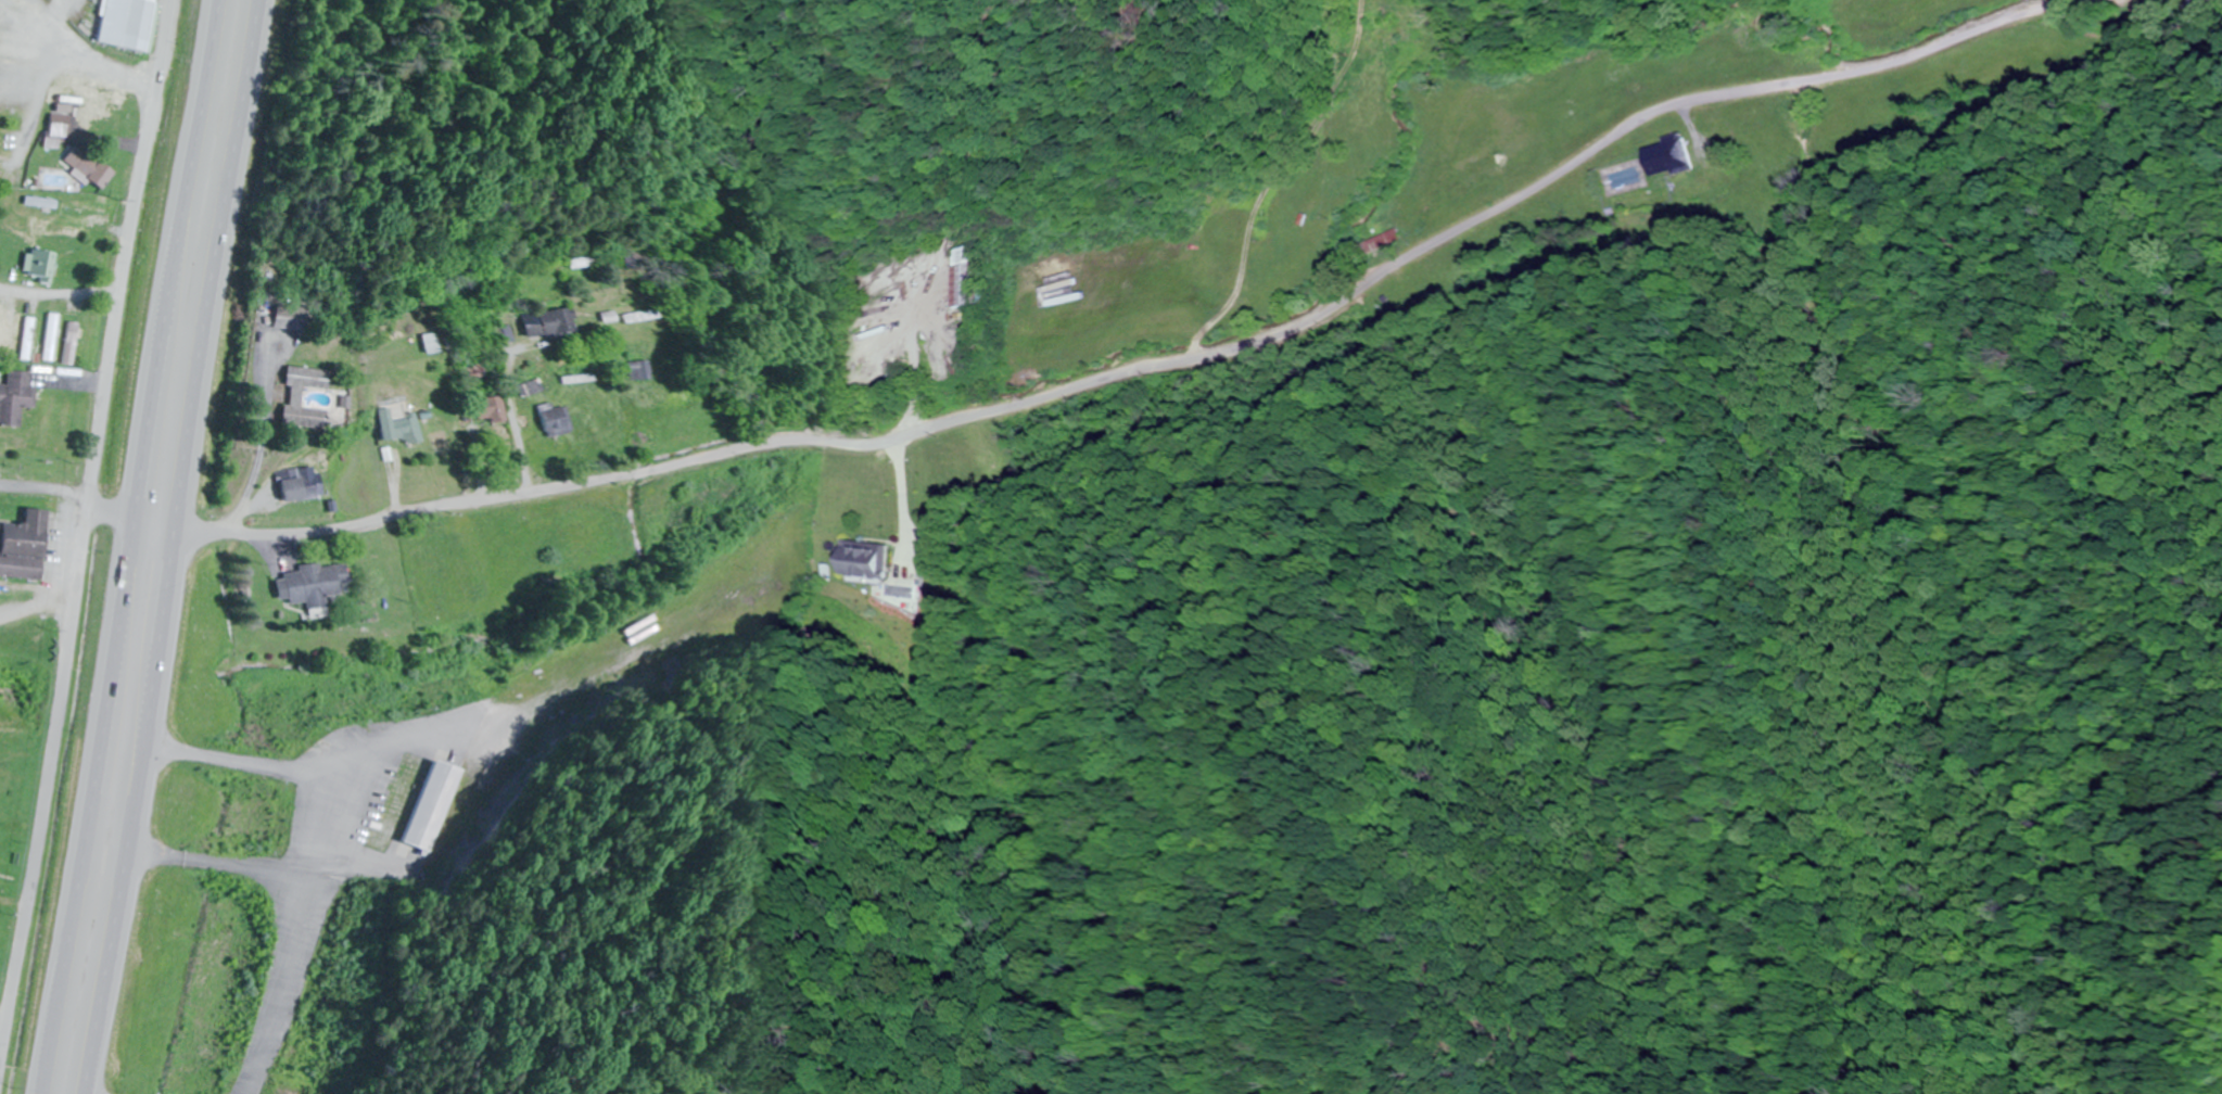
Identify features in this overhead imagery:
building: (127, 25)
building: (1389, 34)
road: (74, 60)
building: (93, 106)
building: (1669, 157)
building: (91, 168)
building: (90, 214)
building: (1284, 242)
building: (1308, 257)
building: (584, 263)
building: (40, 264)
building: (1261, 267)
building: (953, 277)
road: (60, 294)
building: (296, 319)
building: (549, 322)
building: (7, 333)
building: (53, 338)
building: (29, 340)
building: (74, 344)
building: (640, 371)
road: (1140, 378)
road: (947, 390)
building: (18, 397)
building: (301, 399)
building: (492, 410)
building: (554, 420)
building: (408, 429)
building: (309, 487)
road: (67, 501)
road: (82, 525)
road: (129, 546)
road: (178, 547)
building: (27, 548)
building: (864, 559)
building: (320, 585)
road: (36, 610)
road: (510, 727)
building: (407, 804)
road: (214, 867)
road: (283, 989)

